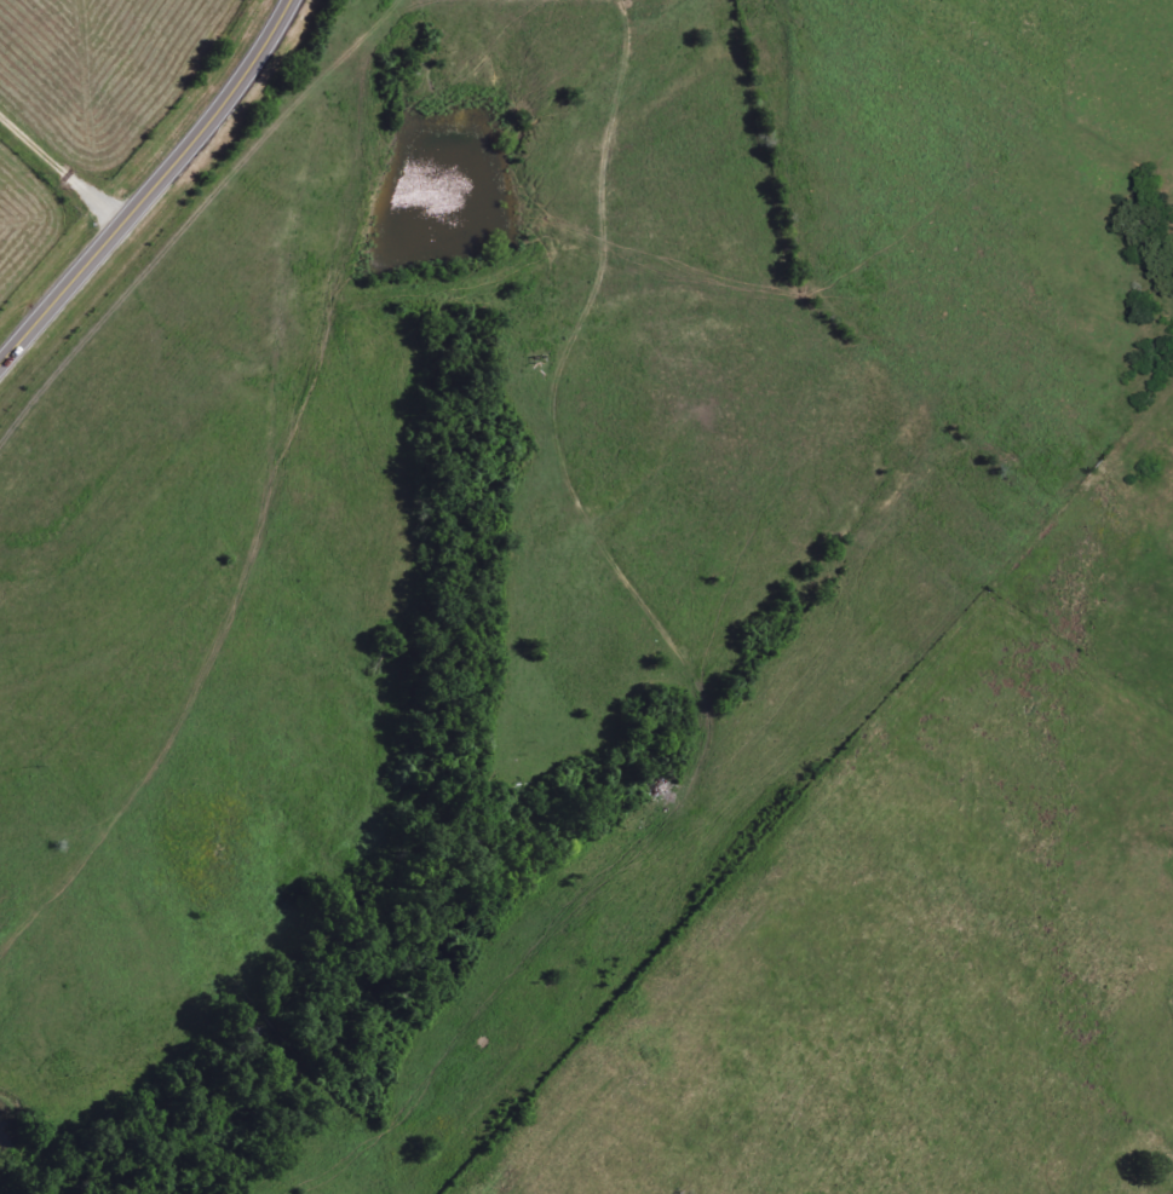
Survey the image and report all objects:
road: (61, 173)
road: (157, 191)

